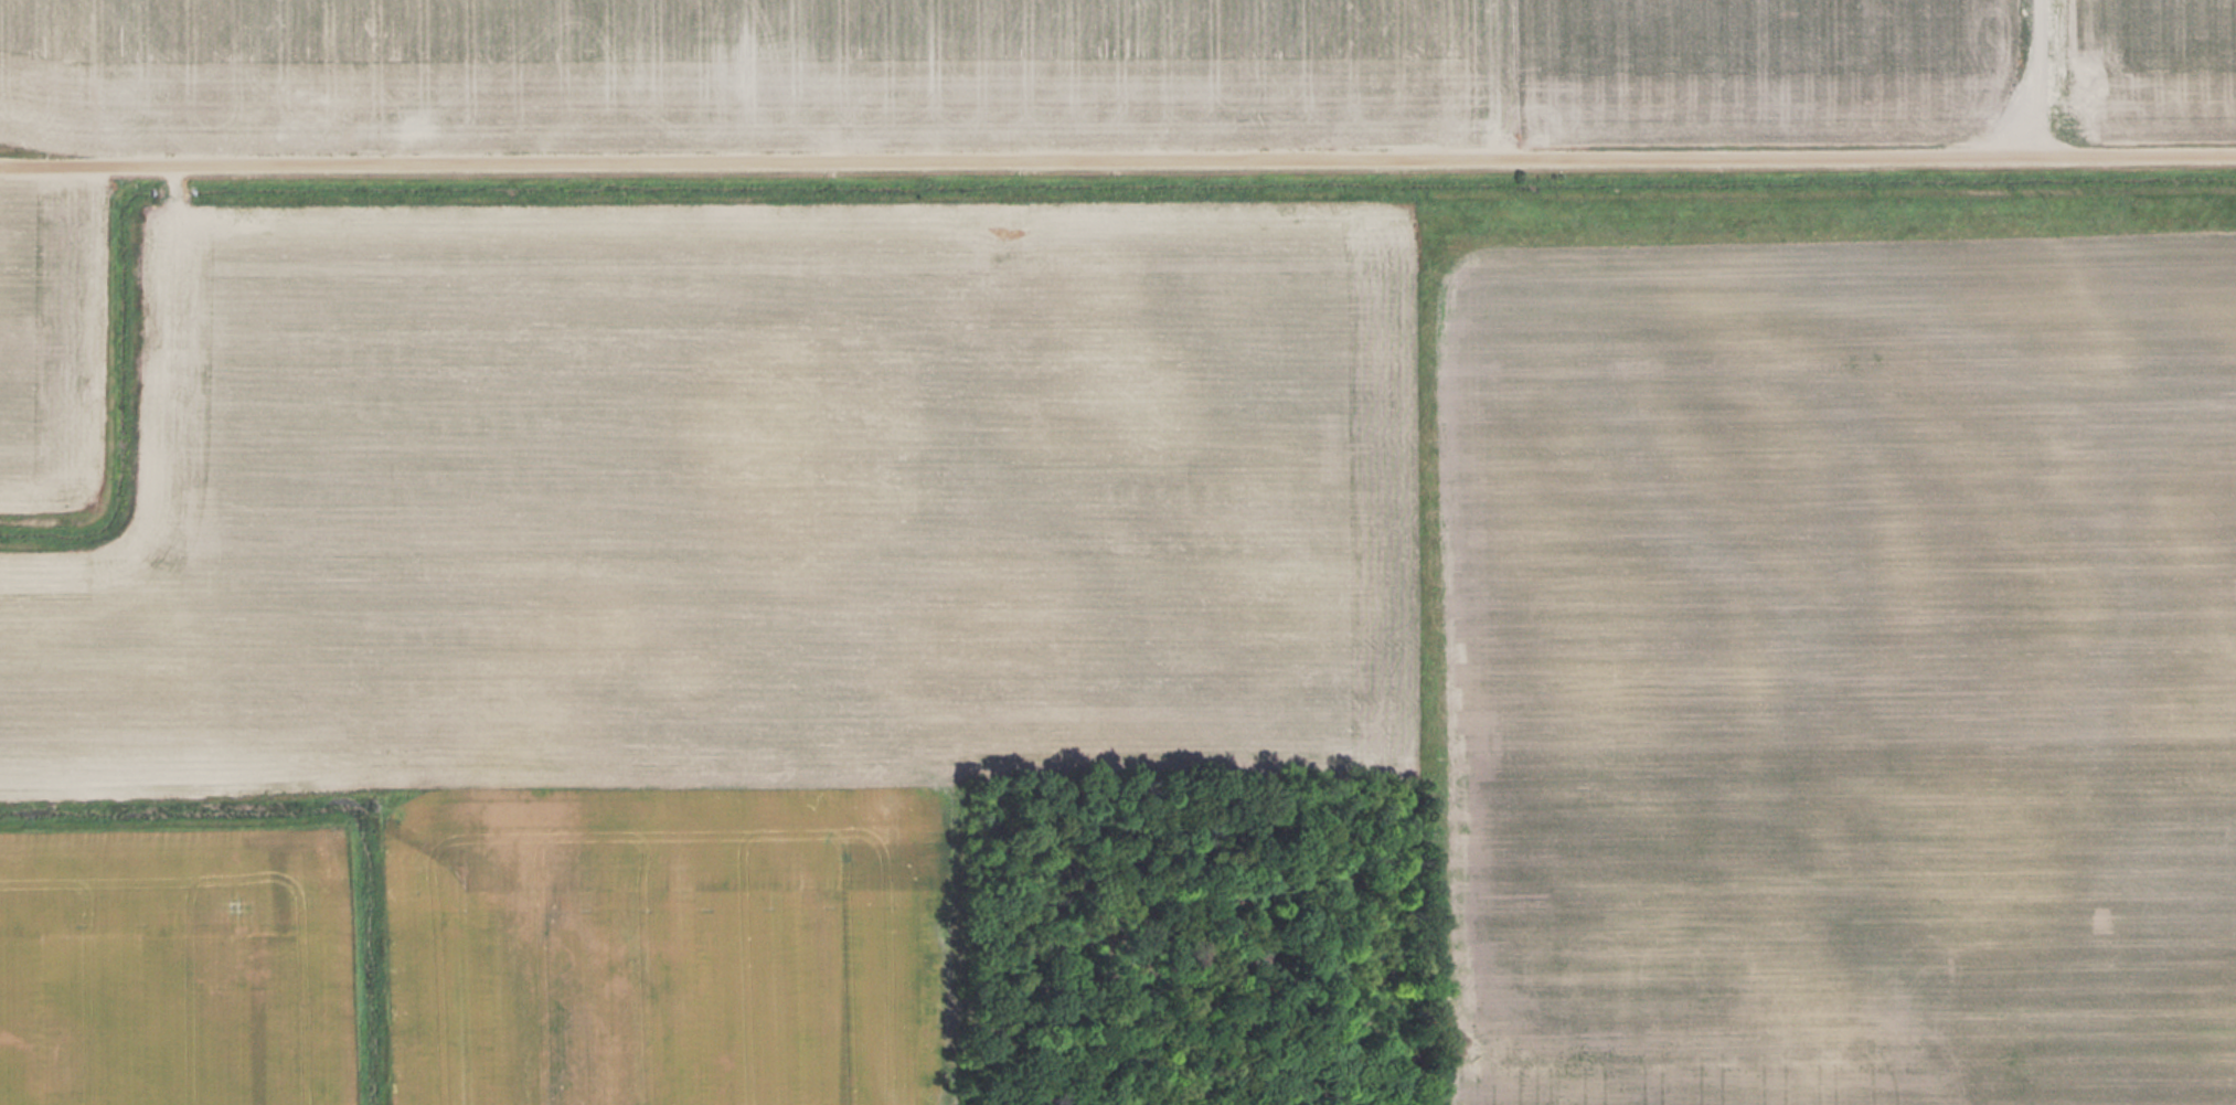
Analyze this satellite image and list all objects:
road: (1117, 163)

